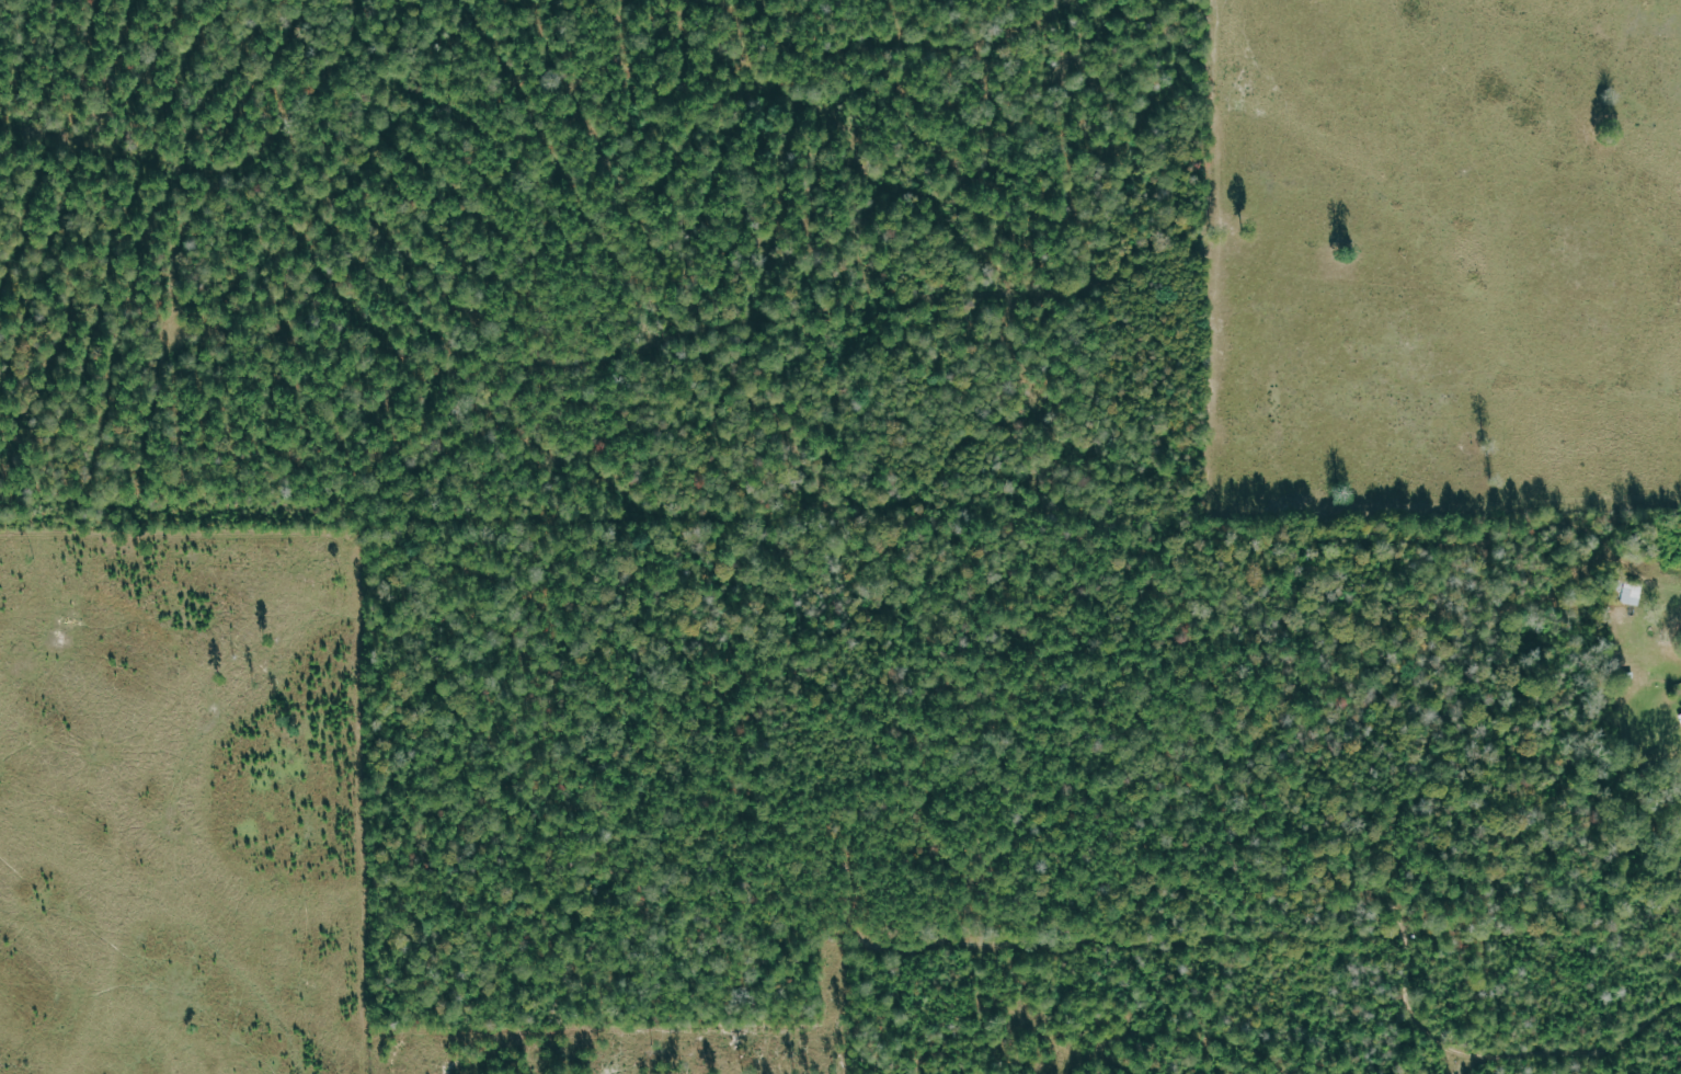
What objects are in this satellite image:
building: (1680, 717)

